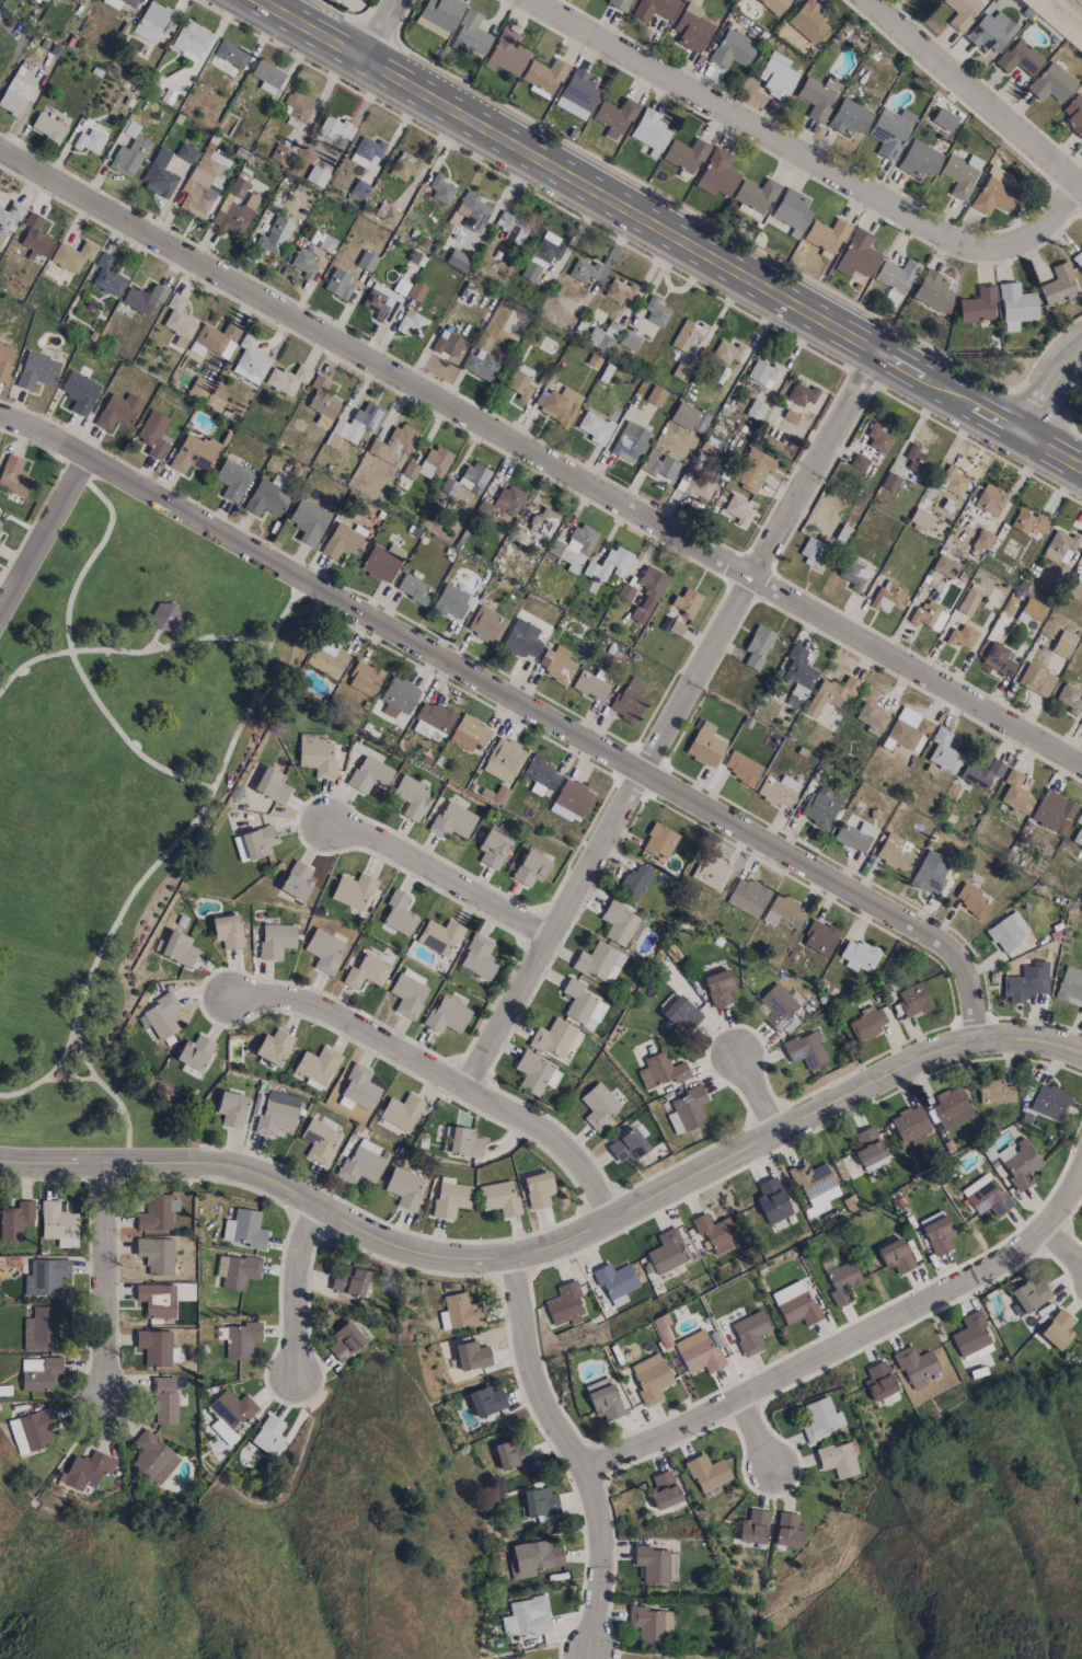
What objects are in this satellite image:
building: (45, 0)
building: (119, 2)
building: (619, 3)
building: (774, 5)
building: (655, 9)
building: (960, 12)
building: (439, 15)
building: (151, 21)
building: (807, 21)
building: (691, 28)
road: (392, 31)
building: (990, 32)
building: (470, 35)
building: (191, 41)
building: (732, 49)
building: (506, 53)
building: (231, 54)
building: (1018, 58)
building: (544, 74)
building: (776, 76)
building: (266, 77)
building: (1050, 83)
building: (577, 94)
road: (975, 94)
building: (14, 96)
building: (816, 99)
building: (299, 110)
building: (1073, 115)
building: (613, 117)
building: (849, 117)
building: (943, 119)
building: (47, 127)
building: (336, 130)
building: (651, 131)
building: (889, 131)
building: (90, 141)
building: (367, 151)
building: (186, 153)
building: (280, 153)
building: (686, 154)
building: (918, 160)
building: (405, 166)
road: (795, 166)
building: (717, 174)
building: (159, 175)
building: (316, 176)
building: (958, 176)
building: (204, 182)
building: (441, 189)
building: (995, 191)
building: (756, 195)
building: (235, 207)
building: (791, 210)
building: (472, 211)
building: (10, 215)
road: (644, 219)
building: (511, 228)
building: (274, 235)
building: (826, 237)
building: (322, 240)
building: (72, 255)
building: (542, 255)
building: (856, 255)
building: (457, 260)
building: (1078, 260)
building: (366, 261)
building: (302, 262)
building: (583, 270)
building: (896, 275)
building: (107, 276)
building: (338, 283)
building: (1058, 286)
building: (932, 290)
building: (415, 291)
building: (619, 291)
building: (142, 298)
building: (382, 303)
building: (978, 304)
building: (1015, 306)
building: (655, 311)
building: (179, 321)
building: (412, 323)
building: (687, 335)
building: (599, 338)
building: (212, 339)
building: (628, 341)
building: (448, 344)
building: (726, 352)
building: (4, 360)
building: (250, 360)
building: (481, 365)
building: (36, 370)
building: (681, 371)
building: (762, 373)
building: (287, 379)
building: (519, 385)
road: (1050, 391)
building: (79, 392)
building: (801, 394)
building: (655, 395)
building: (322, 399)
building: (557, 404)
building: (756, 410)
building: (117, 411)
building: (689, 417)
building: (357, 423)
building: (595, 427)
building: (152, 434)
building: (878, 438)
building: (629, 442)
building: (393, 446)
building: (193, 453)
road: (1055, 453)
building: (917, 460)
building: (429, 463)
road: (540, 464)
building: (663, 466)
building: (751, 471)
building: (13, 476)
building: (473, 477)
building: (231, 480)
building: (694, 485)
building: (448, 486)
building: (948, 496)
building: (266, 497)
building: (508, 499)
building: (990, 499)
building: (737, 509)
building: (921, 518)
building: (0, 520)
building: (308, 521)
building: (1028, 521)
building: (544, 522)
building: (982, 539)
building: (342, 541)
road: (42, 542)
building: (1059, 546)
building: (574, 548)
building: (811, 551)
building: (1079, 561)
building: (380, 564)
building: (608, 565)
building: (944, 566)
building: (853, 575)
building: (414, 589)
building: (1073, 589)
building: (625, 591)
building: (647, 594)
building: (886, 598)
building: (969, 599)
building: (450, 601)
building: (684, 601)
building: (1031, 611)
building: (929, 615)
building: (165, 617)
building: (486, 624)
building: (532, 629)
building: (962, 636)
building: (1063, 644)
building: (757, 646)
road: (67, 650)
road: (124, 652)
building: (326, 659)
building: (998, 659)
building: (556, 664)
building: (797, 676)
building: (364, 678)
building: (1036, 680)
building: (590, 684)
building: (830, 694)
building: (398, 696)
building: (1069, 698)
building: (628, 701)
road: (517, 705)
building: (871, 713)
building: (434, 716)
road: (672, 724)
building: (909, 729)
building: (469, 733)
building: (704, 745)
building: (945, 756)
building: (316, 758)
building: (503, 760)
building: (741, 768)
building: (980, 772)
building: (369, 774)
building: (541, 774)
building: (272, 785)
park: (118, 791)
building: (778, 791)
building: (1015, 792)
building: (410, 796)
building: (573, 797)
building: (820, 806)
building: (1052, 809)
building: (452, 820)
building: (1078, 830)
building: (854, 836)
building: (257, 841)
building: (659, 841)
building: (493, 849)
building: (895, 851)
building: (530, 868)
building: (711, 872)
road: (151, 873)
road: (439, 875)
building: (929, 875)
building: (297, 880)
building: (633, 883)
building: (353, 890)
building: (747, 896)
building: (974, 900)
building: (782, 911)
building: (399, 913)
building: (620, 924)
building: (227, 931)
building: (1008, 931)
building: (438, 936)
building: (819, 937)
building: (275, 941)
building: (179, 948)
building: (324, 951)
building: (859, 955)
building: (479, 957)
building: (598, 960)
building: (366, 971)
building: (1026, 981)
building: (1070, 984)
building: (718, 987)
building: (407, 995)
building: (913, 999)
building: (577, 1001)
building: (776, 1005)
building: (597, 1011)
building: (681, 1014)
building: (447, 1015)
building: (162, 1016)
building: (867, 1023)
building: (553, 1038)
building: (273, 1046)
building: (804, 1050)
building: (194, 1052)
building: (316, 1064)
building: (660, 1070)
building: (534, 1073)
road: (49, 1079)
road: (446, 1081)
building: (359, 1086)
building: (994, 1092)
road: (758, 1095)
building: (1048, 1102)
building: (598, 1106)
building: (951, 1107)
building: (231, 1108)
building: (686, 1109)
building: (402, 1111)
building: (276, 1113)
building: (910, 1125)
building: (319, 1140)
building: (464, 1142)
building: (626, 1145)
building: (868, 1149)
building: (1018, 1162)
building: (360, 1164)
building: (811, 1178)
building: (404, 1187)
building: (538, 1189)
building: (986, 1196)
building: (498, 1197)
building: (450, 1199)
building: (772, 1200)
building: (157, 1212)
building: (15, 1220)
building: (58, 1224)
building: (243, 1229)
building: (714, 1232)
building: (936, 1232)
road: (1064, 1247)
road: (555, 1249)
building: (667, 1252)
building: (156, 1255)
building: (895, 1255)
building: (237, 1270)
building: (45, 1276)
building: (614, 1279)
building: (348, 1280)
road: (106, 1281)
building: (841, 1281)
road: (299, 1292)
building: (1028, 1294)
building: (157, 1300)
building: (794, 1303)
building: (462, 1311)
building: (42, 1329)
building: (1058, 1329)
building: (749, 1332)
building: (970, 1335)
building: (241, 1339)
building: (344, 1341)
road: (848, 1345)
building: (154, 1347)
building: (698, 1352)
building: (471, 1356)
building: (914, 1366)
building: (39, 1372)
building: (649, 1379)
building: (879, 1381)
building: (164, 1401)
building: (486, 1401)
building: (605, 1402)
building: (231, 1408)
building: (820, 1418)
building: (32, 1430)
road: (757, 1435)
building: (268, 1436)
building: (513, 1453)
road: (579, 1456)
building: (153, 1458)
building: (837, 1460)
building: (87, 1470)
building: (709, 1472)
building: (664, 1489)
building: (538, 1501)
building: (753, 1526)
building: (789, 1530)
building: (533, 1558)
building: (651, 1563)
building: (526, 1616)
building: (649, 1623)
building: (518, 1657)

